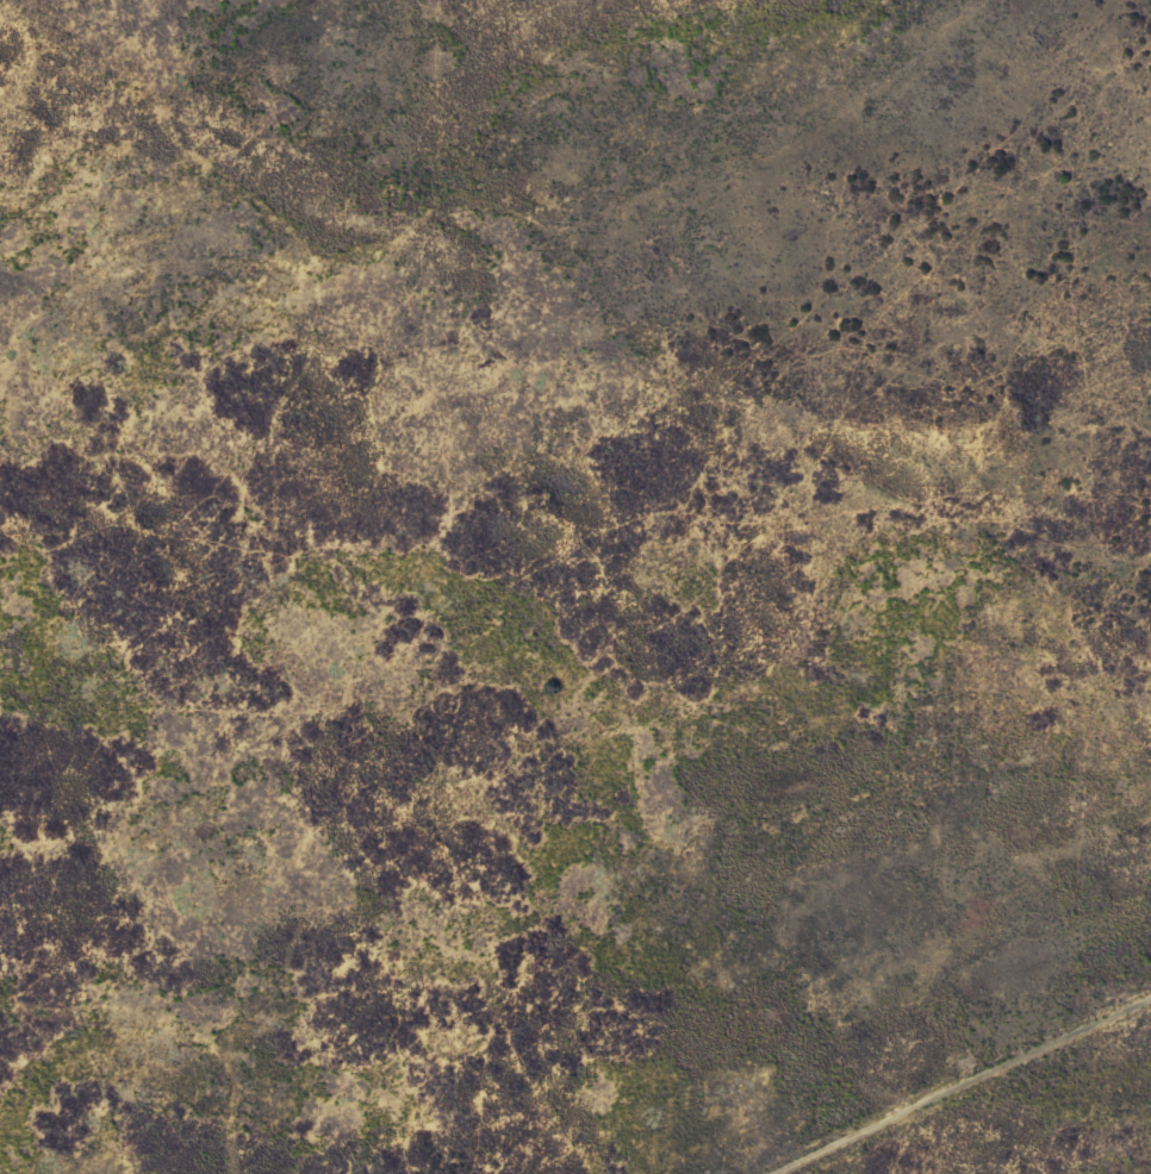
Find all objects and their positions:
road: (965, 1087)

